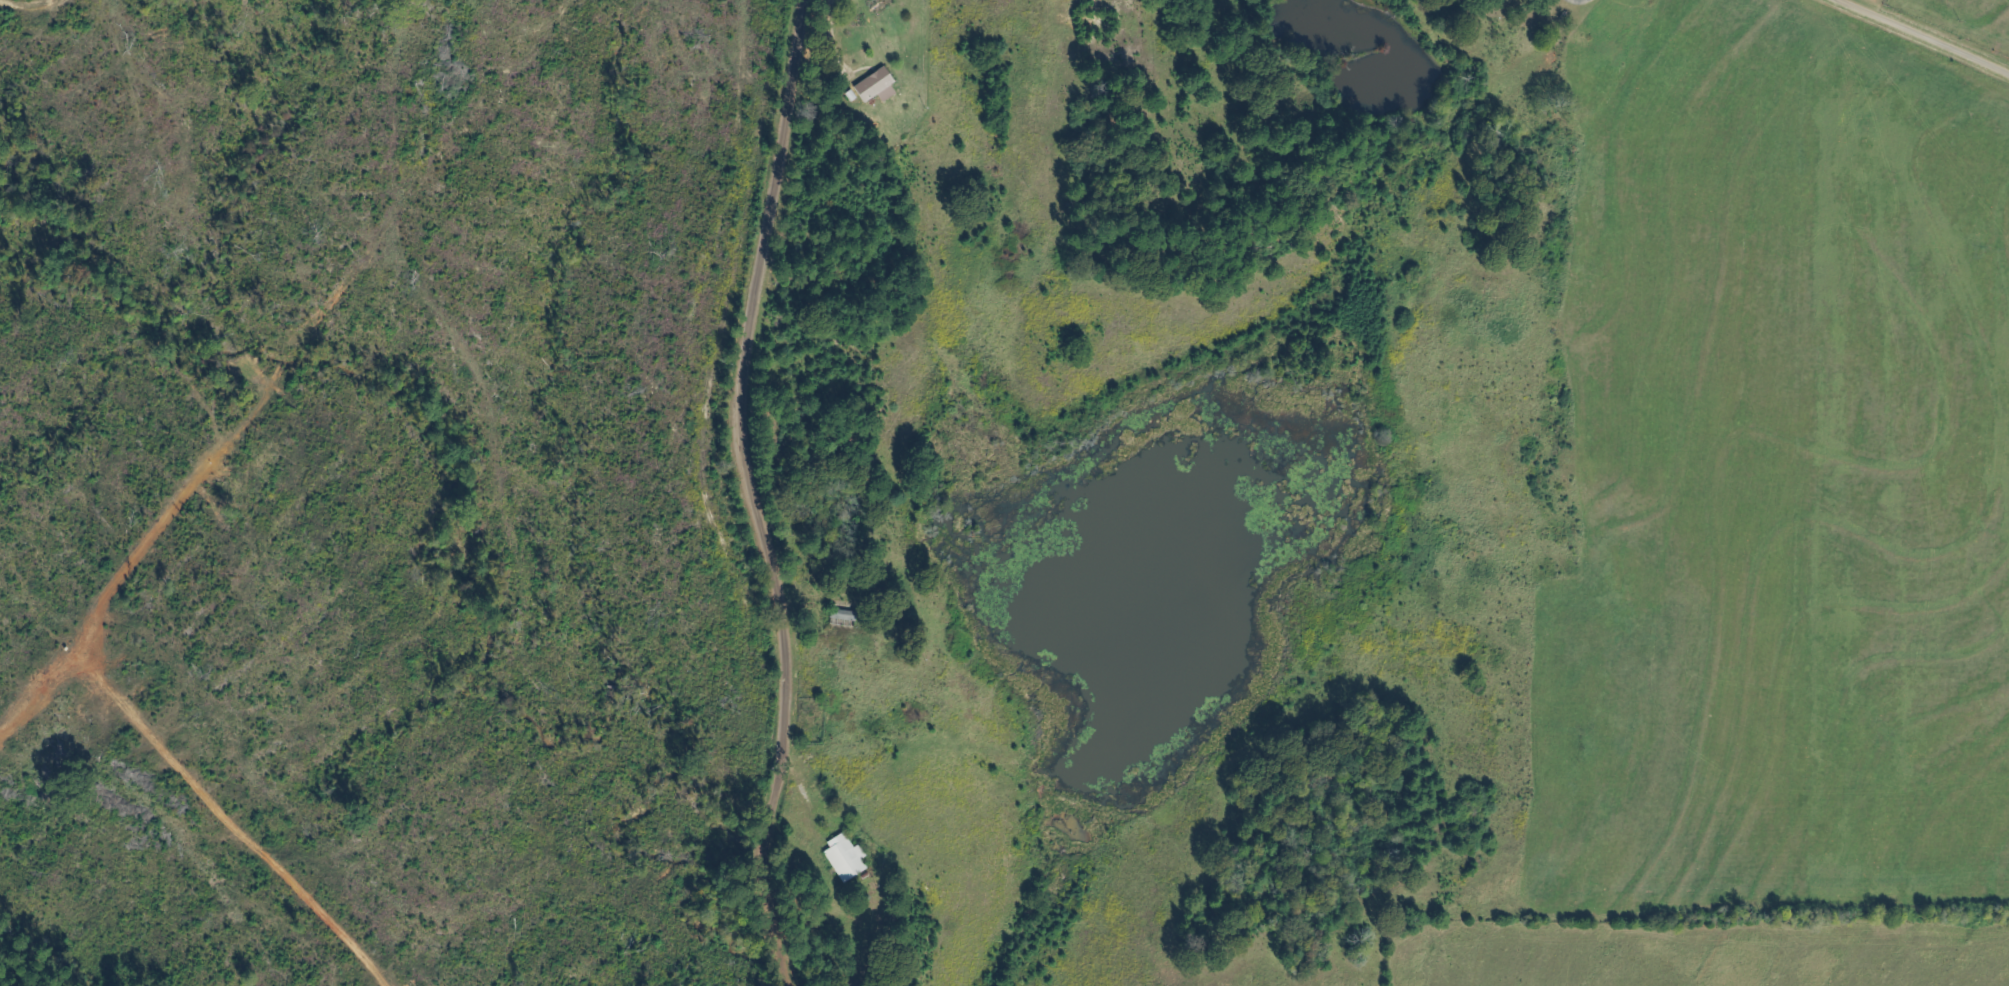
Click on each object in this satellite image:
road: (1888, 53)
building: (872, 88)
road: (766, 493)
building: (842, 859)
road: (146, 934)

